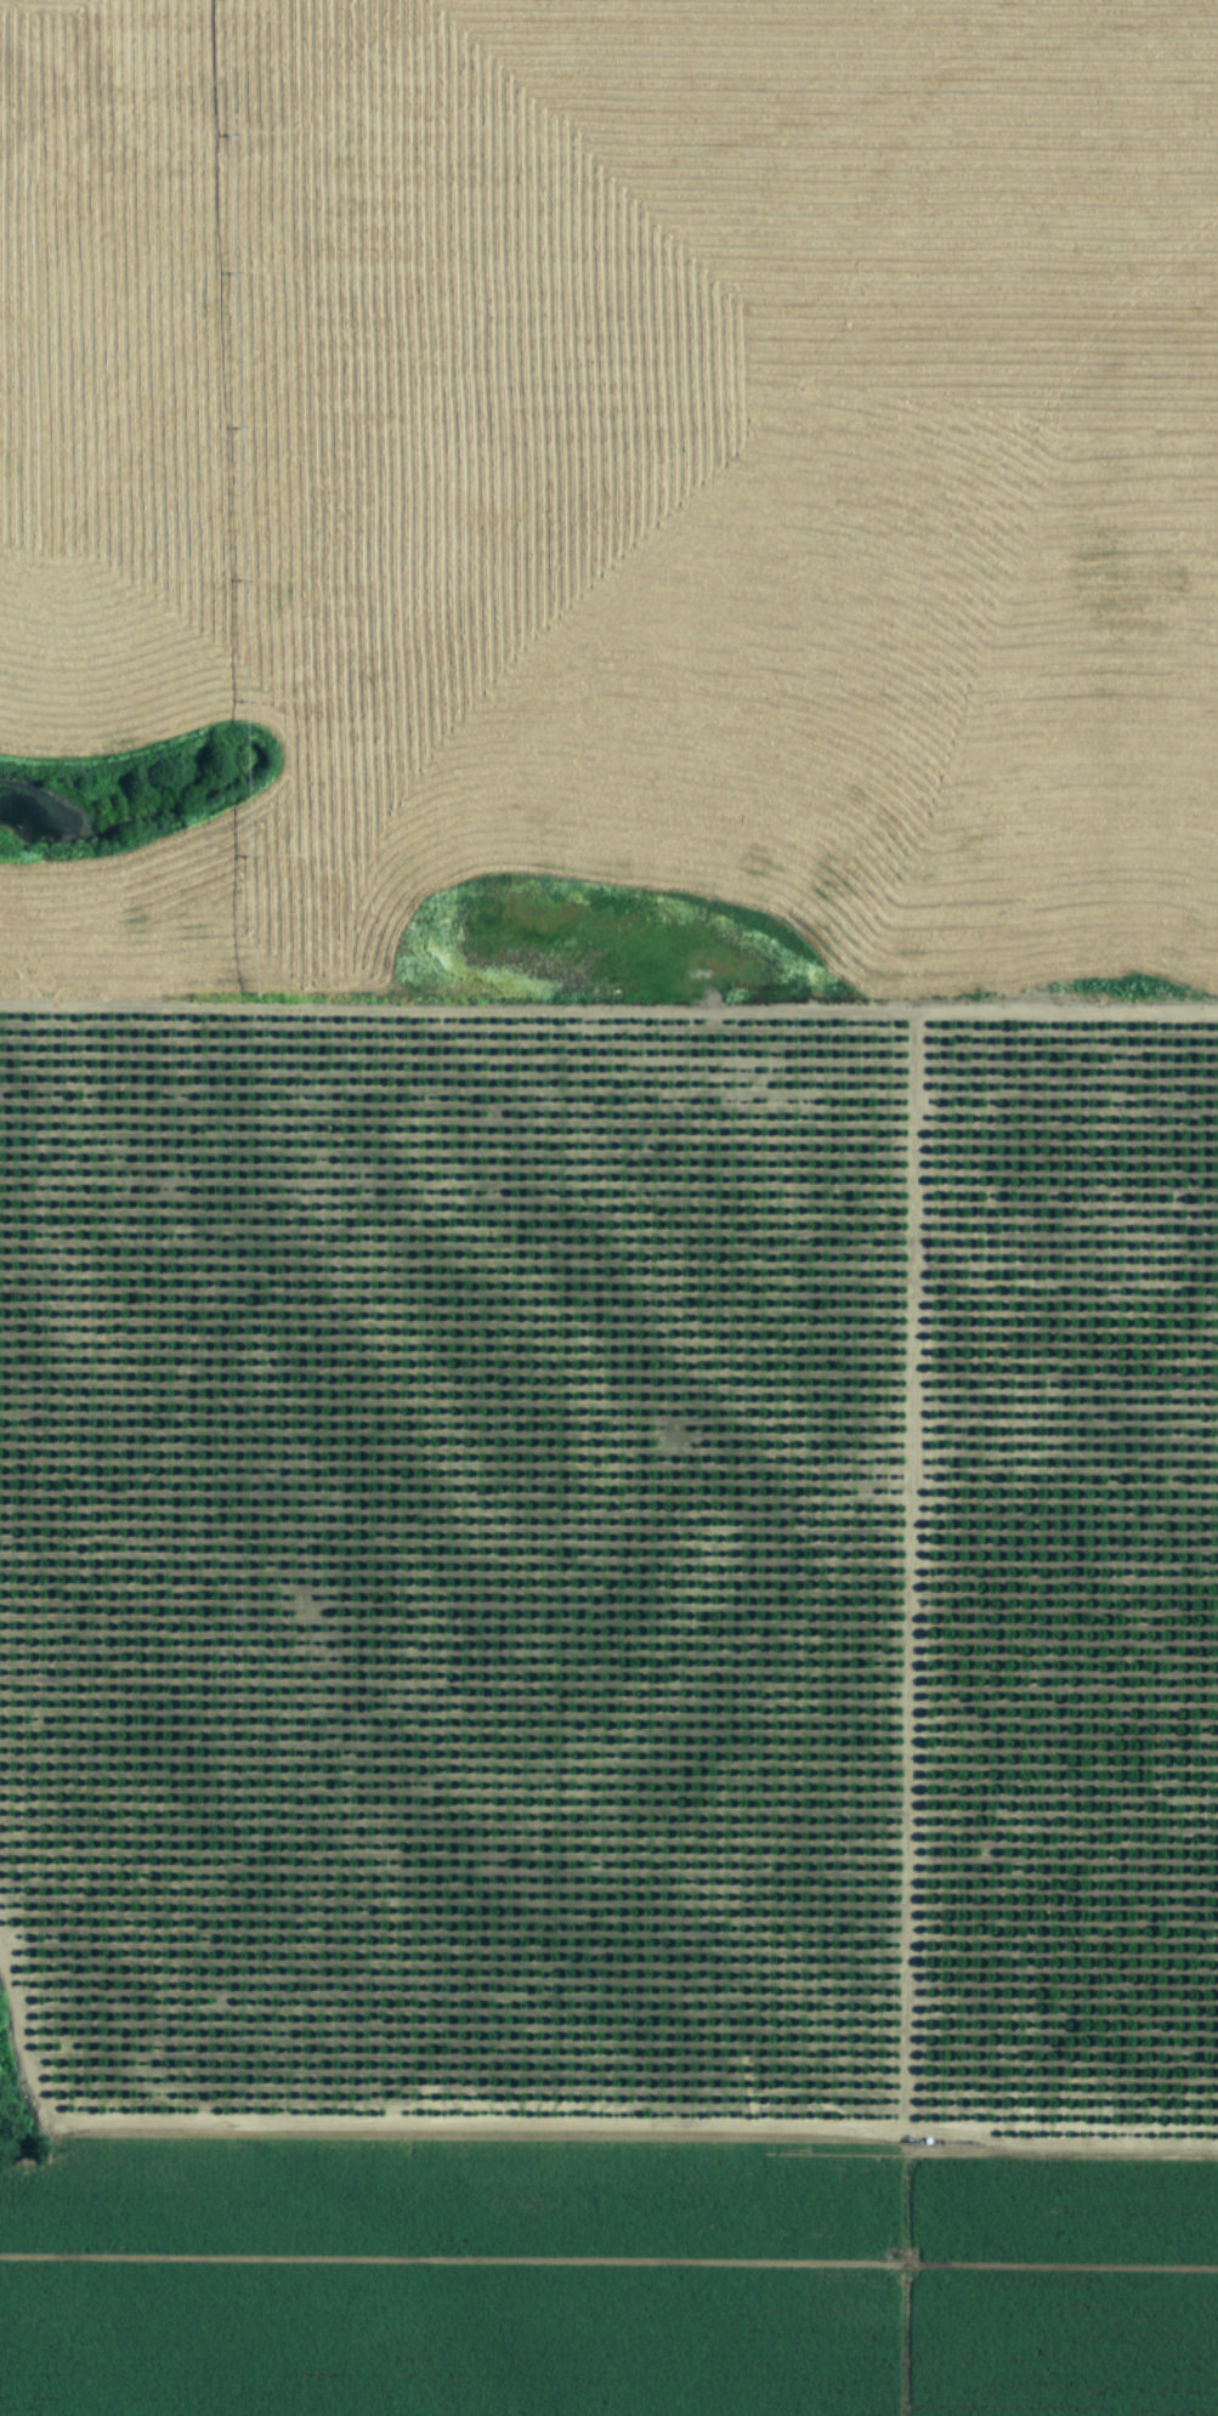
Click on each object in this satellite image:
crop: (613, 1210)
road: (1095, 2167)

